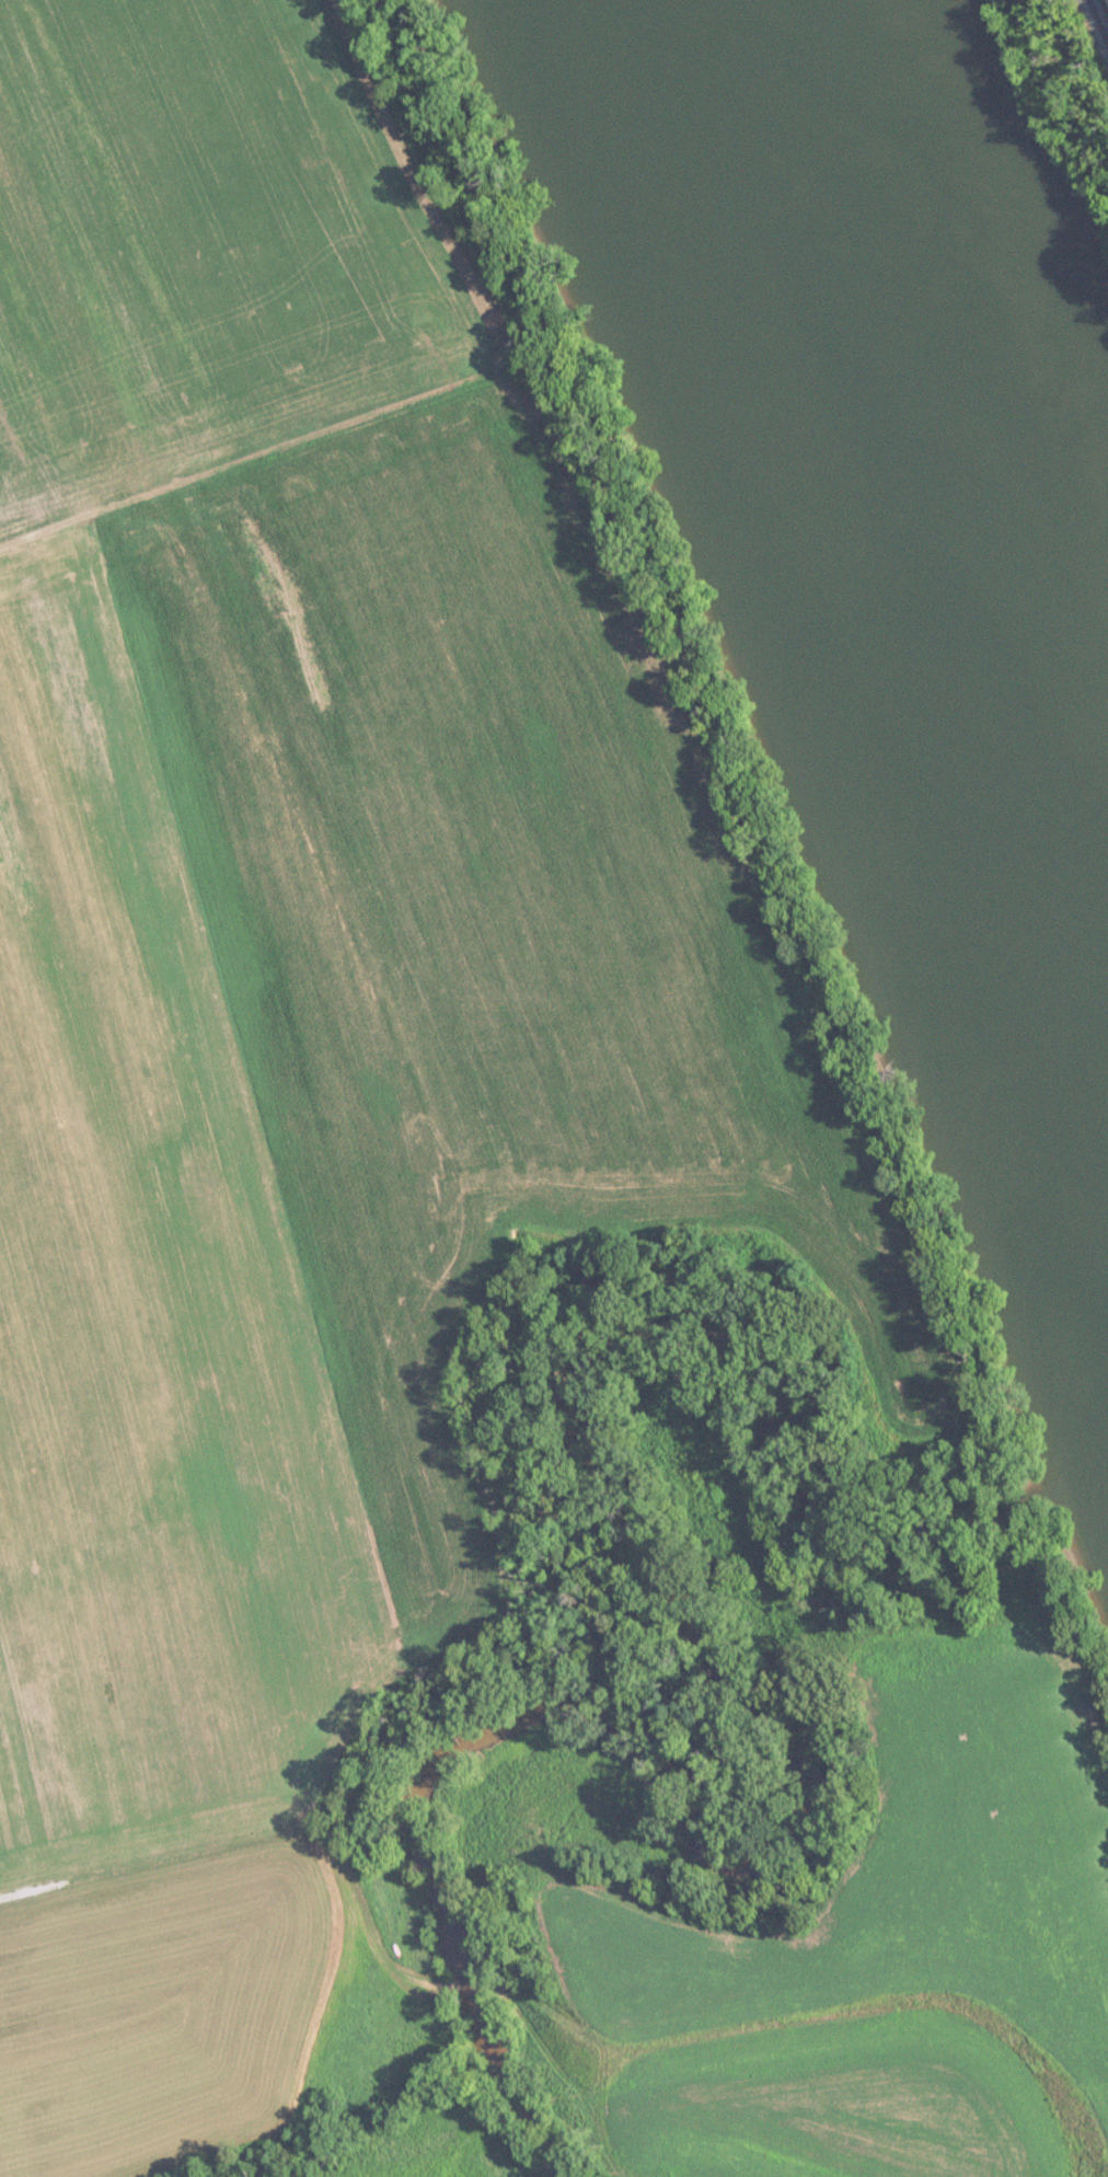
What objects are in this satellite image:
railway: (1096, 24)
river: (884, 510)
road: (508, 1352)

